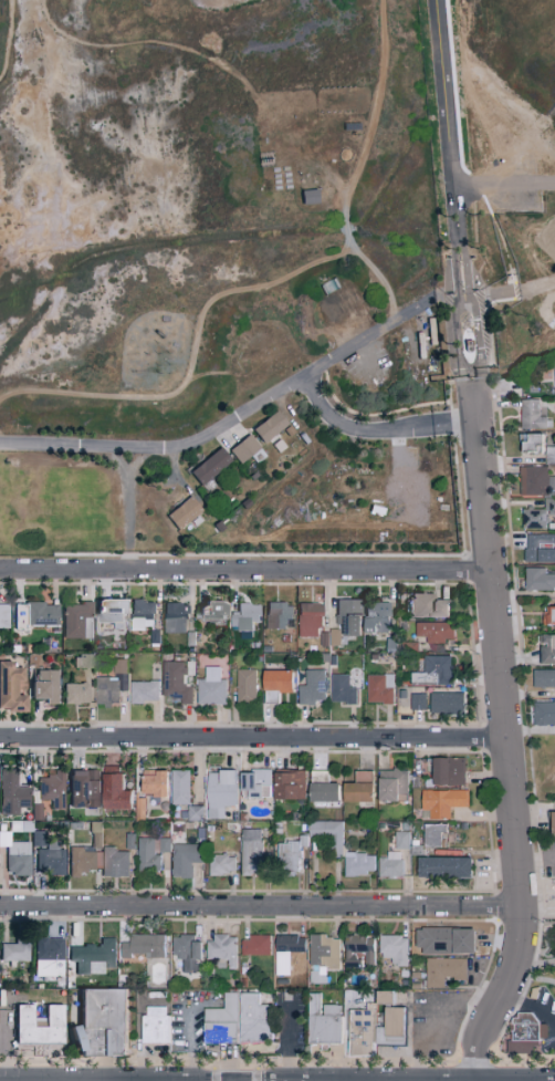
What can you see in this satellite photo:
road: (443, 93)
road: (520, 149)
building: (277, 177)
road: (503, 184)
building: (305, 196)
road: (467, 277)
road: (457, 278)
road: (513, 292)
road: (465, 308)
building: (465, 344)
building: (553, 373)
road: (477, 394)
road: (463, 395)
building: (553, 408)
building: (527, 414)
road: (228, 422)
building: (265, 426)
road: (376, 429)
building: (528, 443)
building: (240, 448)
building: (548, 454)
building: (206, 465)
building: (532, 481)
building: (179, 512)
building: (536, 514)
building: (538, 548)
road: (240, 570)
building: (536, 579)
building: (425, 604)
building: (106, 609)
building: (206, 609)
building: (39, 613)
building: (138, 613)
building: (2, 614)
building: (15, 614)
building: (275, 614)
building: (547, 614)
building: (241, 615)
building: (345, 615)
building: (171, 616)
building: (373, 616)
building: (305, 619)
building: (74, 620)
building: (431, 630)
building: (327, 637)
building: (545, 647)
building: (430, 671)
building: (542, 677)
building: (171, 683)
building: (272, 683)
building: (40, 684)
building: (242, 685)
building: (9, 686)
building: (208, 686)
building: (308, 686)
building: (376, 687)
building: (338, 688)
building: (103, 689)
building: (140, 690)
building: (72, 692)
building: (415, 700)
building: (442, 703)
building: (542, 713)
road: (250, 737)
road: (502, 755)
building: (444, 770)
building: (150, 781)
building: (252, 781)
building: (285, 783)
building: (389, 783)
building: (177, 786)
building: (78, 787)
building: (318, 787)
building: (356, 787)
building: (48, 788)
building: (111, 788)
building: (217, 791)
building: (10, 792)
building: (439, 801)
building: (551, 821)
building: (429, 833)
building: (325, 834)
building: (398, 839)
building: (248, 851)
building: (147, 852)
building: (285, 854)
building: (14, 856)
building: (46, 857)
building: (180, 859)
road: (534, 859)
building: (80, 860)
building: (112, 862)
building: (356, 863)
building: (218, 864)
building: (387, 864)
building: (440, 866)
building: (554, 888)
road: (258, 905)
building: (139, 945)
building: (251, 945)
building: (219, 948)
building: (390, 948)
building: (12, 949)
building: (354, 949)
building: (182, 950)
building: (283, 952)
building: (44, 955)
building: (88, 955)
building: (318, 956)
building: (440, 970)
road: (528, 1005)
road: (428, 1010)
building: (251, 1018)
building: (386, 1019)
building: (218, 1020)
building: (320, 1020)
building: (95, 1021)
building: (33, 1022)
building: (151, 1025)
building: (357, 1030)
building: (521, 1038)
road: (286, 1039)

